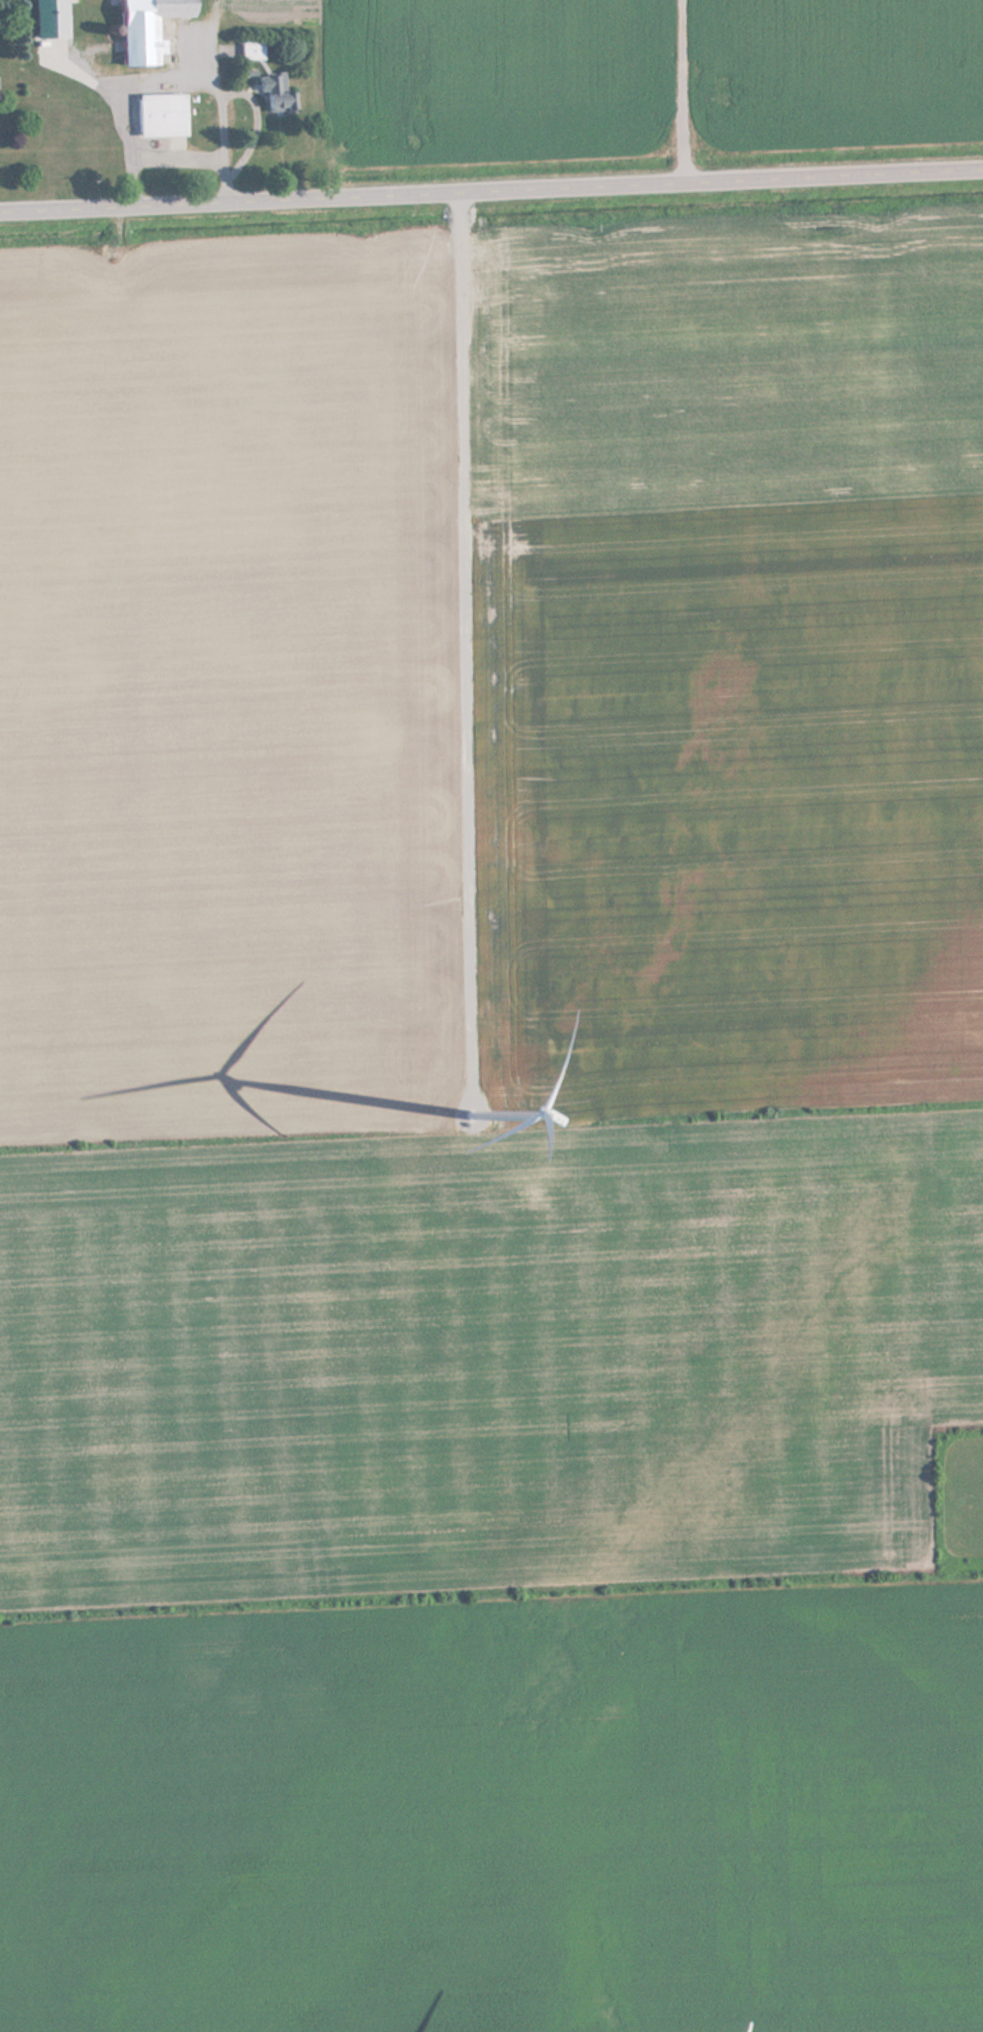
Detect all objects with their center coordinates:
building: (148, 27)
road: (690, 90)
building: (278, 93)
building: (162, 114)
road: (491, 189)
wind turbine: (473, 1109)

